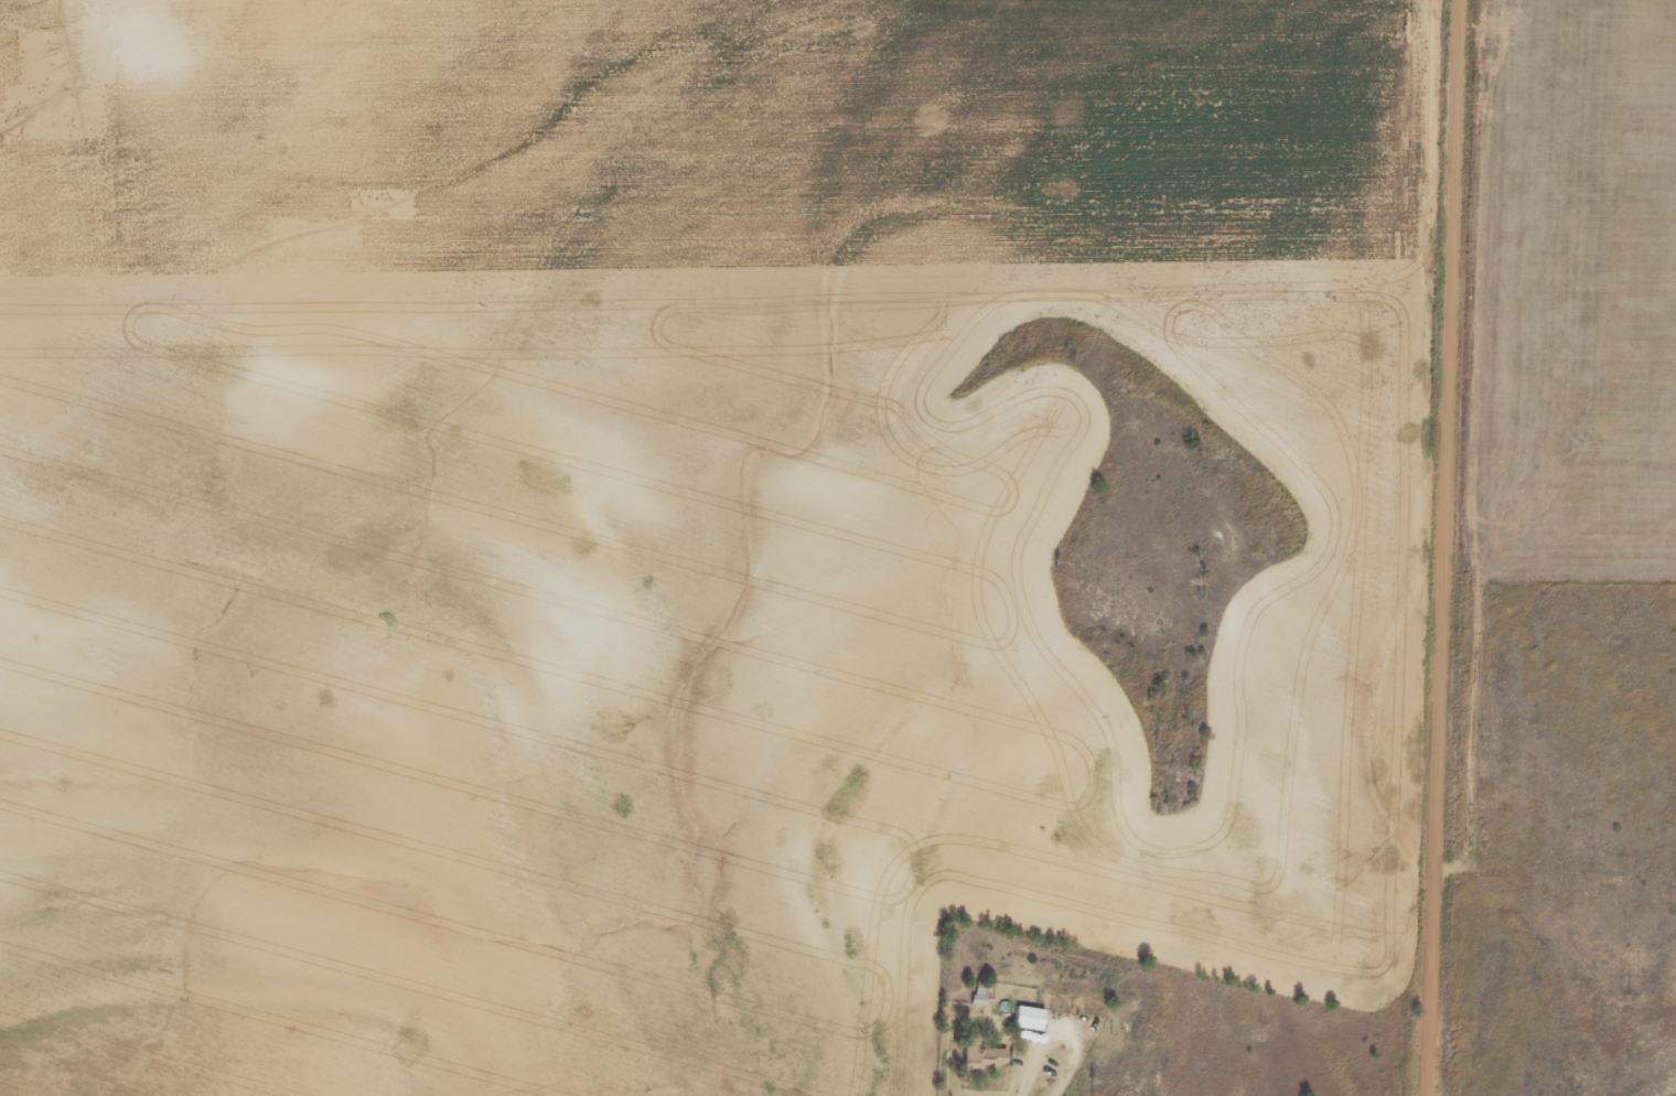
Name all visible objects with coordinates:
road: (1447, 548)
building: (1027, 1017)
building: (980, 1054)
road: (1027, 1079)

